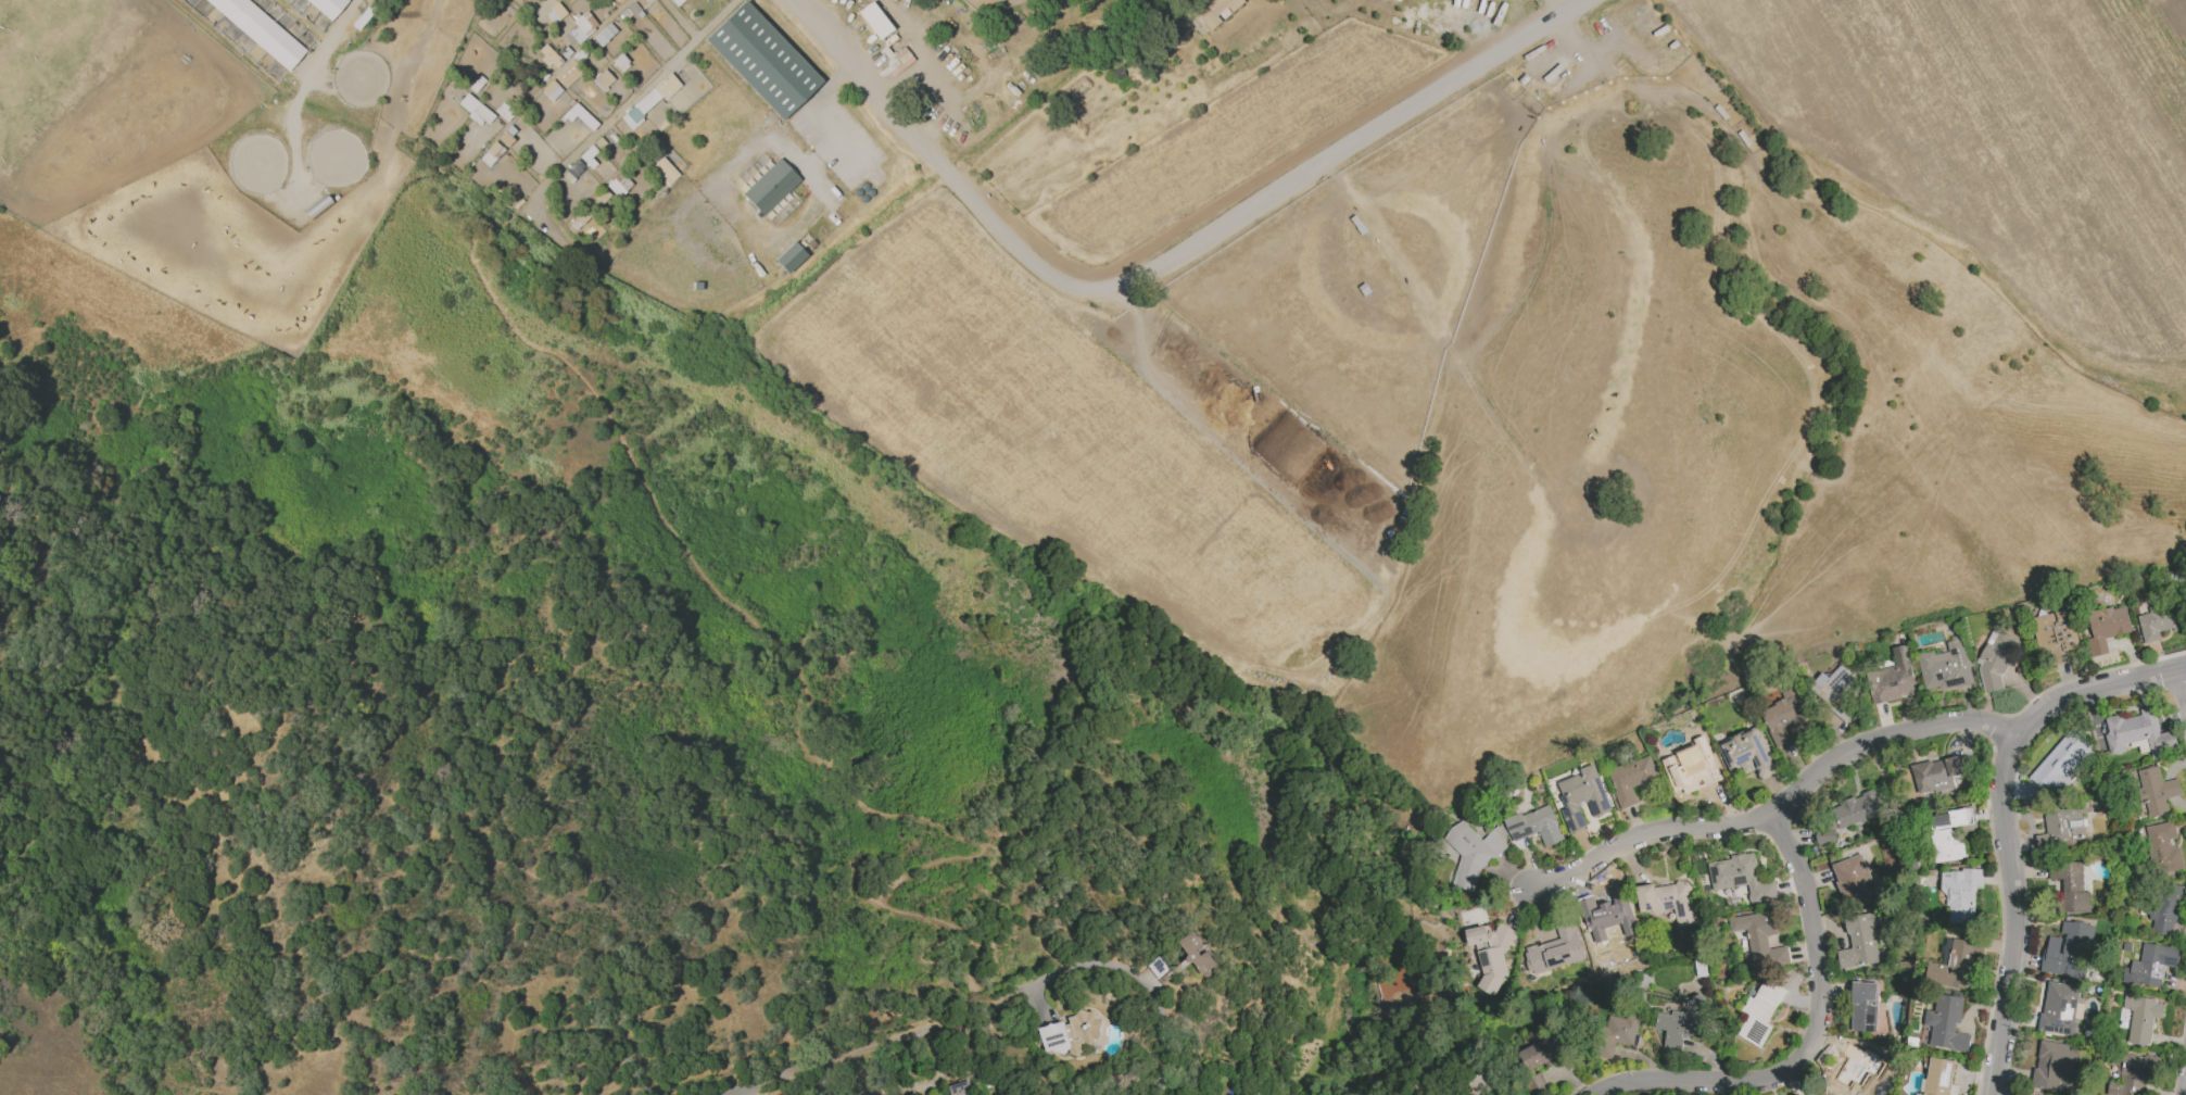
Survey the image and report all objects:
building: (675, 1)
building: (994, 2)
building: (489, 3)
building: (643, 3)
road: (1575, 3)
building: (326, 7)
building: (554, 12)
building: (1209, 12)
building: (633, 13)
building: (313, 16)
building: (873, 20)
building: (364, 21)
building: (260, 30)
building: (1114, 30)
building: (586, 34)
building: (603, 34)
road: (327, 37)
building: (541, 48)
building: (567, 54)
building: (581, 58)
building: (618, 60)
building: (761, 60)
park: (761, 60)
building: (573, 65)
park: (357, 76)
building: (566, 78)
building: (601, 78)
road: (643, 89)
building: (476, 90)
building: (553, 92)
building: (657, 96)
building: (472, 105)
road: (820, 112)
building: (482, 113)
building: (506, 116)
building: (580, 116)
building: (634, 117)
building: (674, 127)
building: (505, 140)
building: (601, 146)
building: (495, 148)
building: (645, 156)
park: (333, 158)
building: (586, 161)
park: (255, 163)
building: (574, 173)
building: (770, 186)
building: (614, 188)
building: (604, 198)
building: (597, 202)
building: (583, 218)
building: (1368, 235)
building: (788, 256)
road: (1163, 264)
building: (2158, 621)
building: (2107, 628)
building: (2055, 634)
building: (1997, 656)
building: (1945, 666)
road: (2185, 667)
building: (1892, 679)
building: (1834, 687)
building: (1784, 716)
building: (2138, 733)
building: (1747, 754)
building: (1688, 764)
building: (2060, 765)
building: (1937, 773)
building: (1631, 779)
building: (2157, 791)
building: (1582, 796)
building: (1856, 809)
road: (1774, 810)
road: (2007, 817)
building: (1536, 826)
building: (2063, 826)
building: (1825, 834)
building: (1950, 834)
building: (2164, 847)
building: (1471, 854)
building: (1852, 877)
building: (1741, 878)
building: (2071, 885)
building: (1960, 896)
building: (1668, 901)
building: (2165, 909)
building: (1604, 924)
building: (1760, 940)
building: (1859, 941)
building: (1555, 949)
building: (2067, 951)
building: (1197, 953)
building: (1491, 954)
building: (2150, 965)
building: (1955, 967)
road: (1136, 989)
road: (978, 1002)
building: (1863, 1007)
building: (2060, 1008)
building: (1760, 1012)
building: (2141, 1018)
building: (1683, 1023)
building: (1946, 1023)
building: (1070, 1033)
building: (1617, 1033)
road: (1817, 1039)
building: (1540, 1053)
road: (829, 1063)
building: (2055, 1066)
building: (1846, 1072)
building: (2130, 1075)
building: (1938, 1077)
building: (1536, 1084)
building: (1479, 1085)
building: (961, 1088)
road: (2185, 1093)
building: (2026, 1094)

